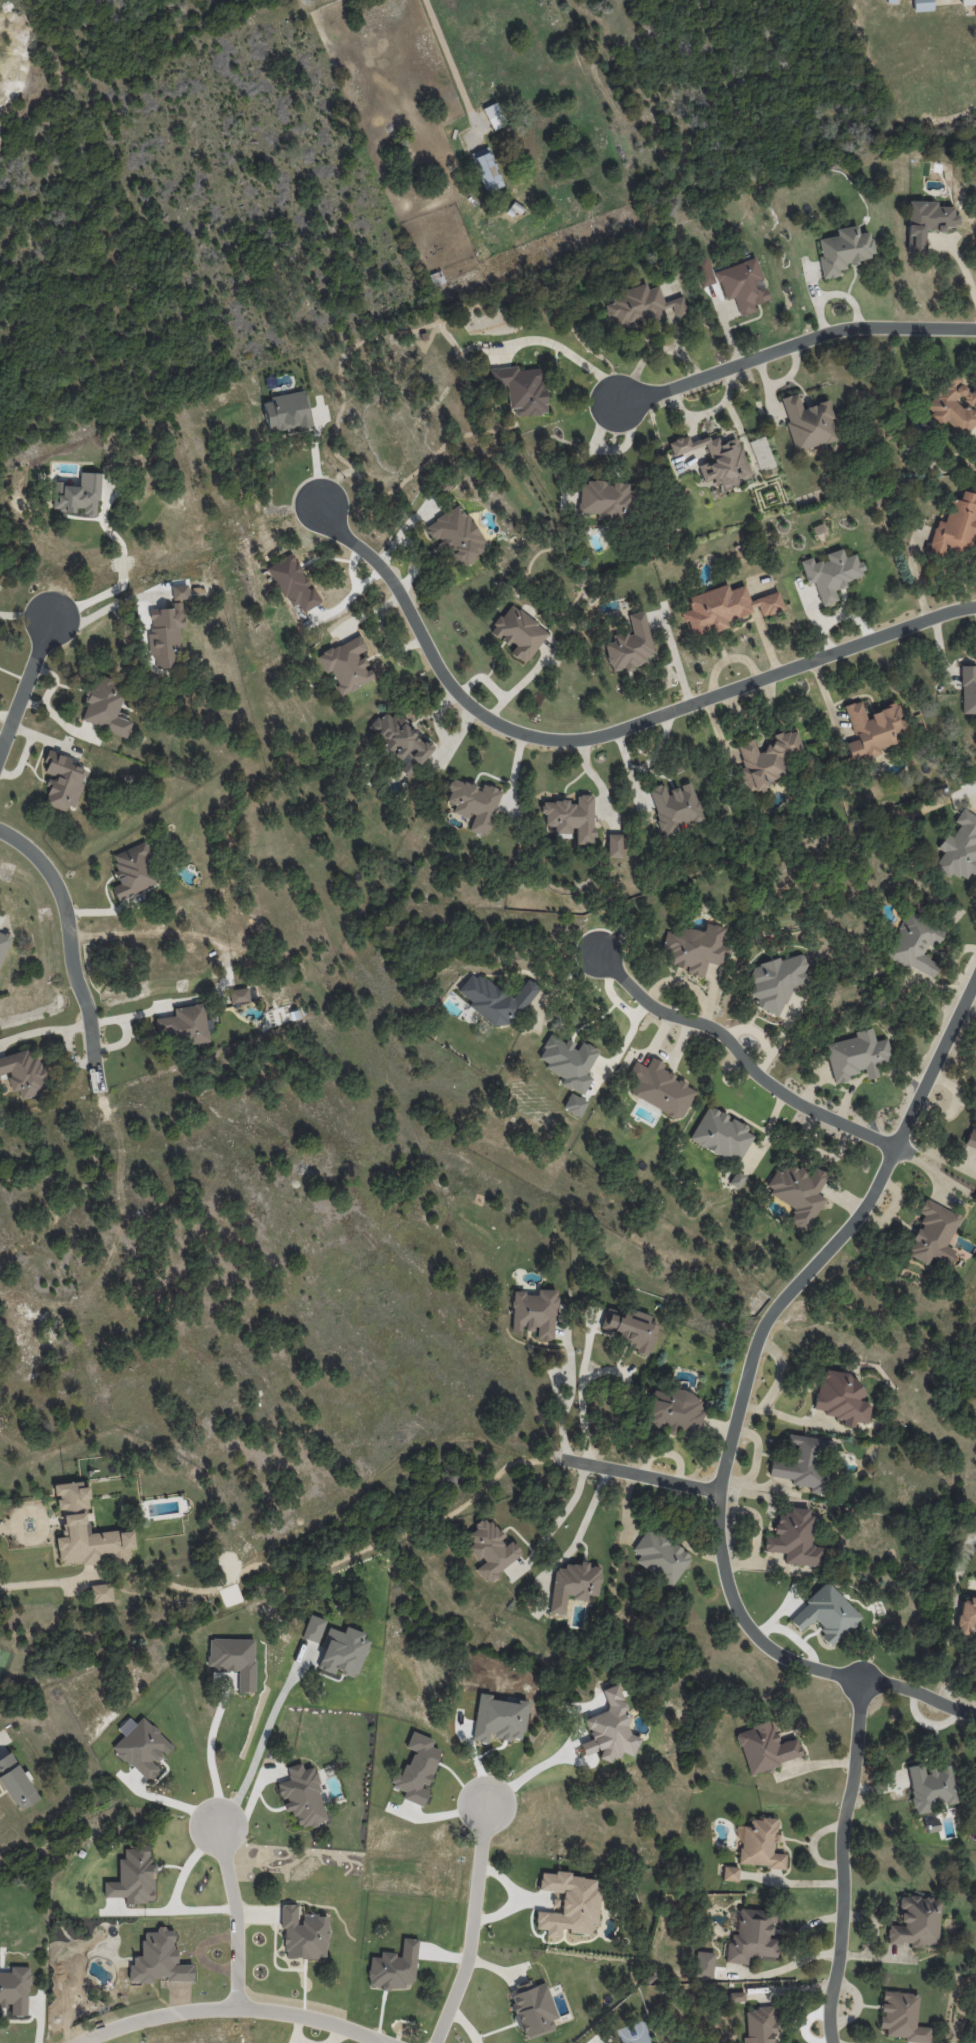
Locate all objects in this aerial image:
building: (967, 3)
building: (922, 5)
road: (447, 53)
building: (494, 115)
building: (486, 169)
building: (926, 222)
building: (843, 250)
road: (963, 268)
building: (741, 285)
building: (640, 306)
road: (791, 345)
road: (569, 352)
building: (521, 388)
building: (952, 405)
building: (287, 412)
building: (808, 422)
building: (761, 453)
road: (315, 458)
building: (715, 459)
building: (78, 495)
building: (603, 498)
building: (955, 526)
building: (819, 531)
building: (456, 536)
road: (122, 573)
building: (830, 573)
building: (291, 582)
building: (724, 607)
road: (104, 610)
building: (167, 630)
building: (518, 633)
building: (629, 645)
building: (346, 665)
road: (26, 685)
building: (968, 689)
building: (105, 706)
building: (871, 729)
road: (604, 734)
building: (400, 740)
building: (766, 761)
building: (62, 780)
building: (473, 803)
building: (674, 807)
building: (571, 817)
building: (613, 845)
building: (959, 848)
building: (132, 871)
building: (3, 944)
building: (915, 944)
building: (695, 948)
road: (69, 952)
building: (775, 981)
road: (562, 987)
building: (238, 995)
building: (495, 999)
building: (182, 1025)
road: (35, 1030)
road: (68, 1045)
road: (739, 1054)
building: (856, 1055)
building: (568, 1062)
building: (24, 1073)
building: (659, 1088)
building: (721, 1135)
building: (971, 1137)
road: (938, 1154)
building: (736, 1179)
building: (798, 1192)
building: (933, 1233)
building: (534, 1313)
building: (633, 1329)
road: (784, 1357)
road: (580, 1392)
road: (741, 1395)
road: (561, 1397)
building: (841, 1397)
road: (794, 1404)
building: (674, 1412)
building: (803, 1463)
road: (636, 1473)
road: (559, 1517)
road: (7, 1527)
road: (581, 1530)
building: (86, 1532)
road: (29, 1538)
building: (794, 1538)
building: (491, 1549)
building: (660, 1556)
building: (573, 1584)
building: (101, 1593)
building: (826, 1614)
building: (967, 1616)
building: (313, 1628)
building: (342, 1652)
building: (233, 1659)
road: (953, 1678)
building: (142, 1748)
building: (765, 1748)
road: (260, 1749)
road: (209, 1752)
building: (416, 1769)
road: (527, 1773)
building: (16, 1783)
building: (930, 1787)
building: (302, 1796)
building: (758, 1844)
road: (844, 1861)
building: (730, 1874)
building: (133, 1876)
road: (176, 1887)
building: (568, 1904)
road: (232, 1914)
building: (916, 1922)
road: (471, 1924)
building: (303, 1933)
building: (752, 1936)
building: (158, 1959)
building: (703, 1964)
road: (781, 1967)
building: (15, 1990)
building: (736, 1996)
road: (230, 2009)
building: (532, 2009)
building: (901, 2017)
building: (759, 2025)

